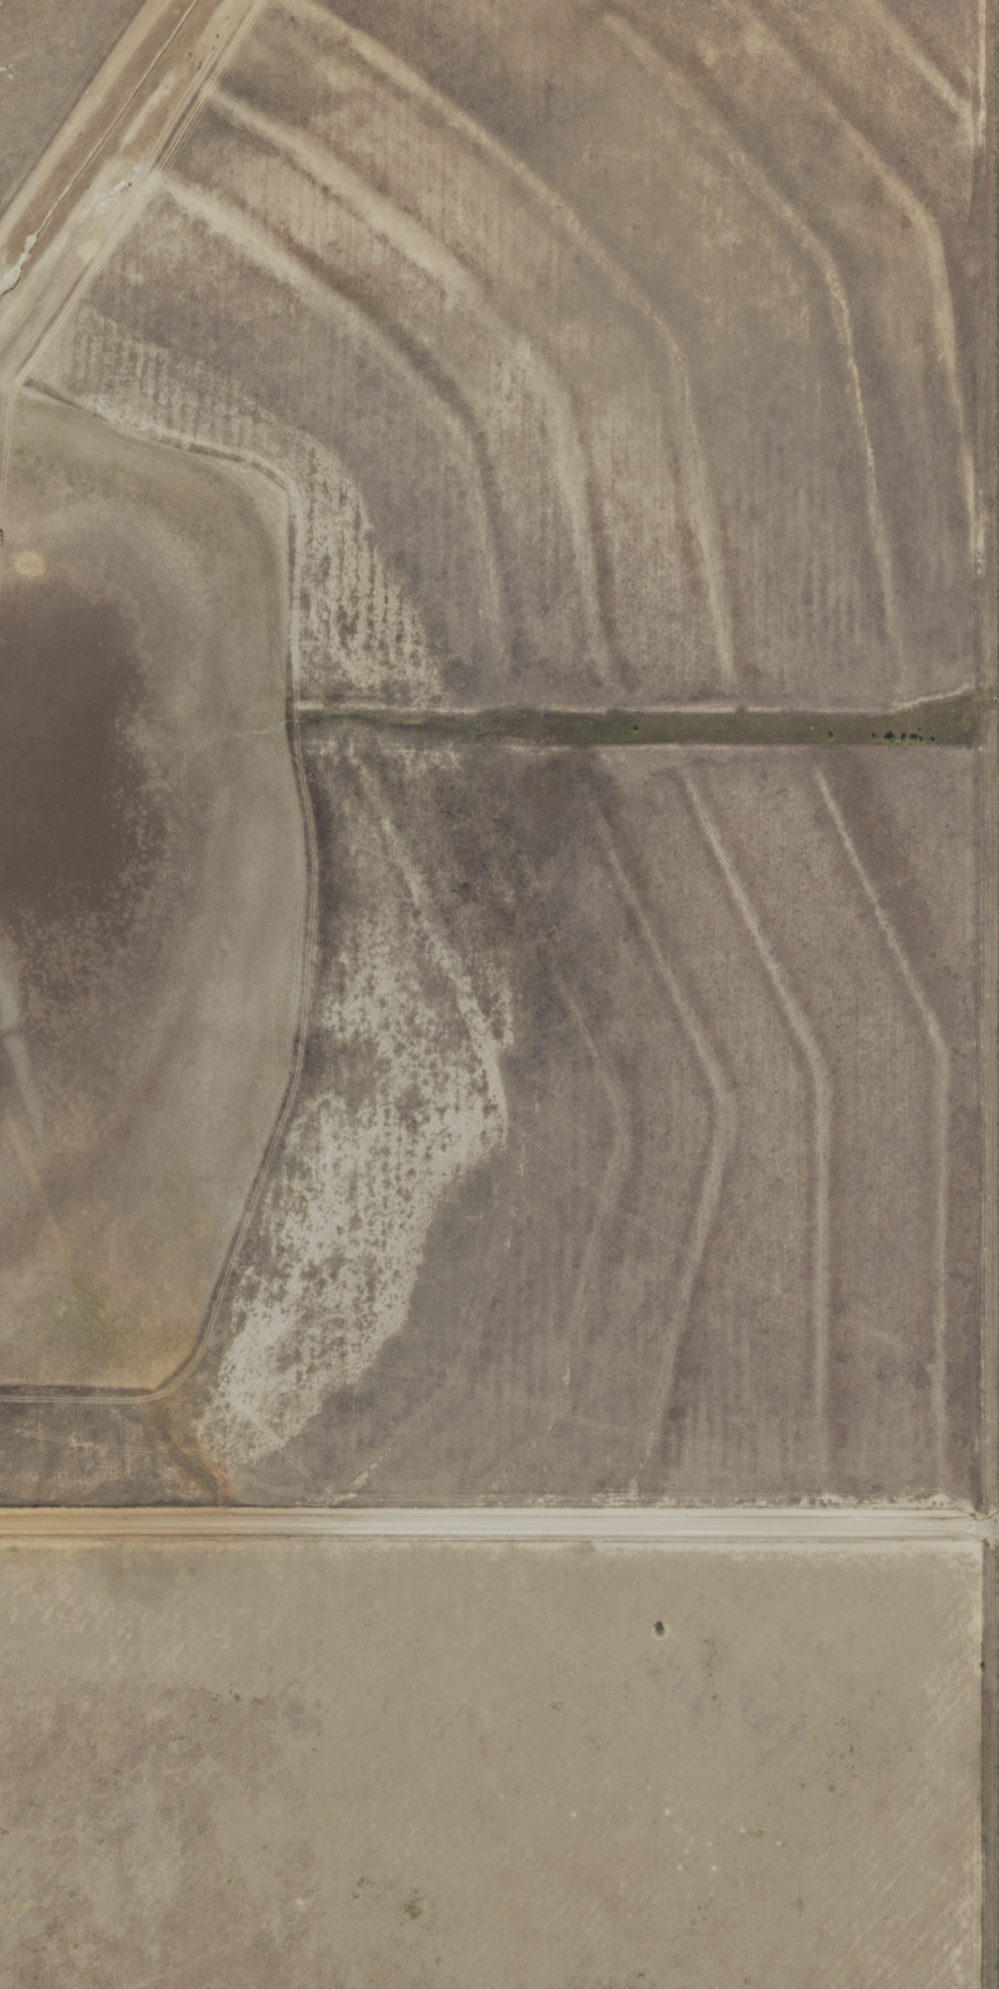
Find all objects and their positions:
road: (499, 1537)

